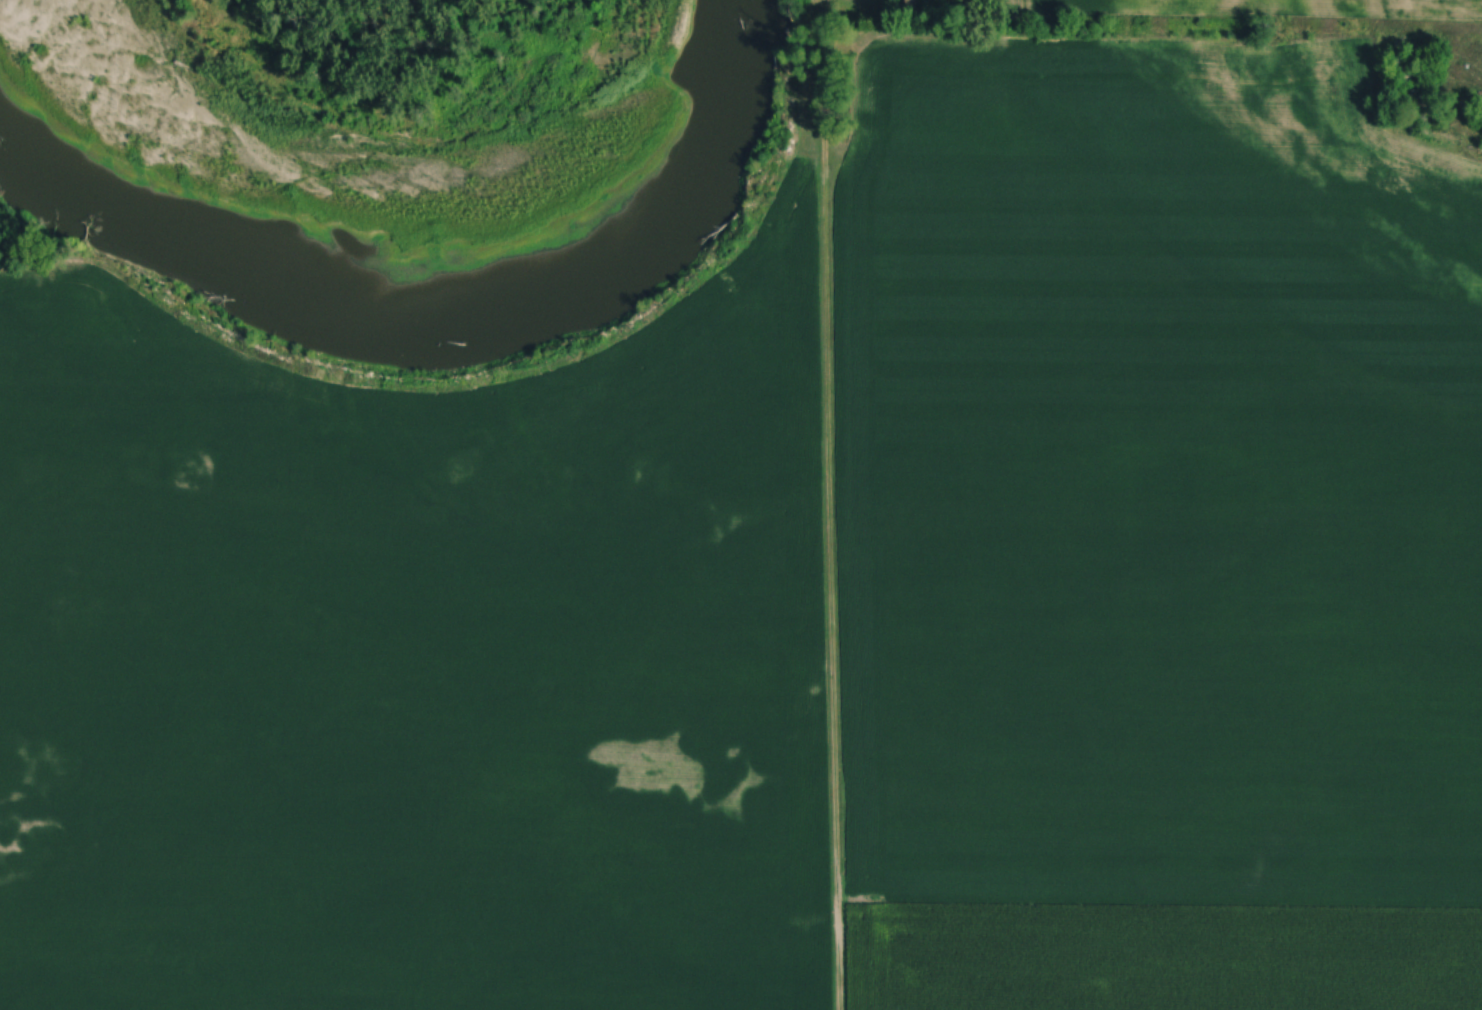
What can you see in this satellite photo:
building: (971, 2)
river: (417, 261)
road: (828, 505)

